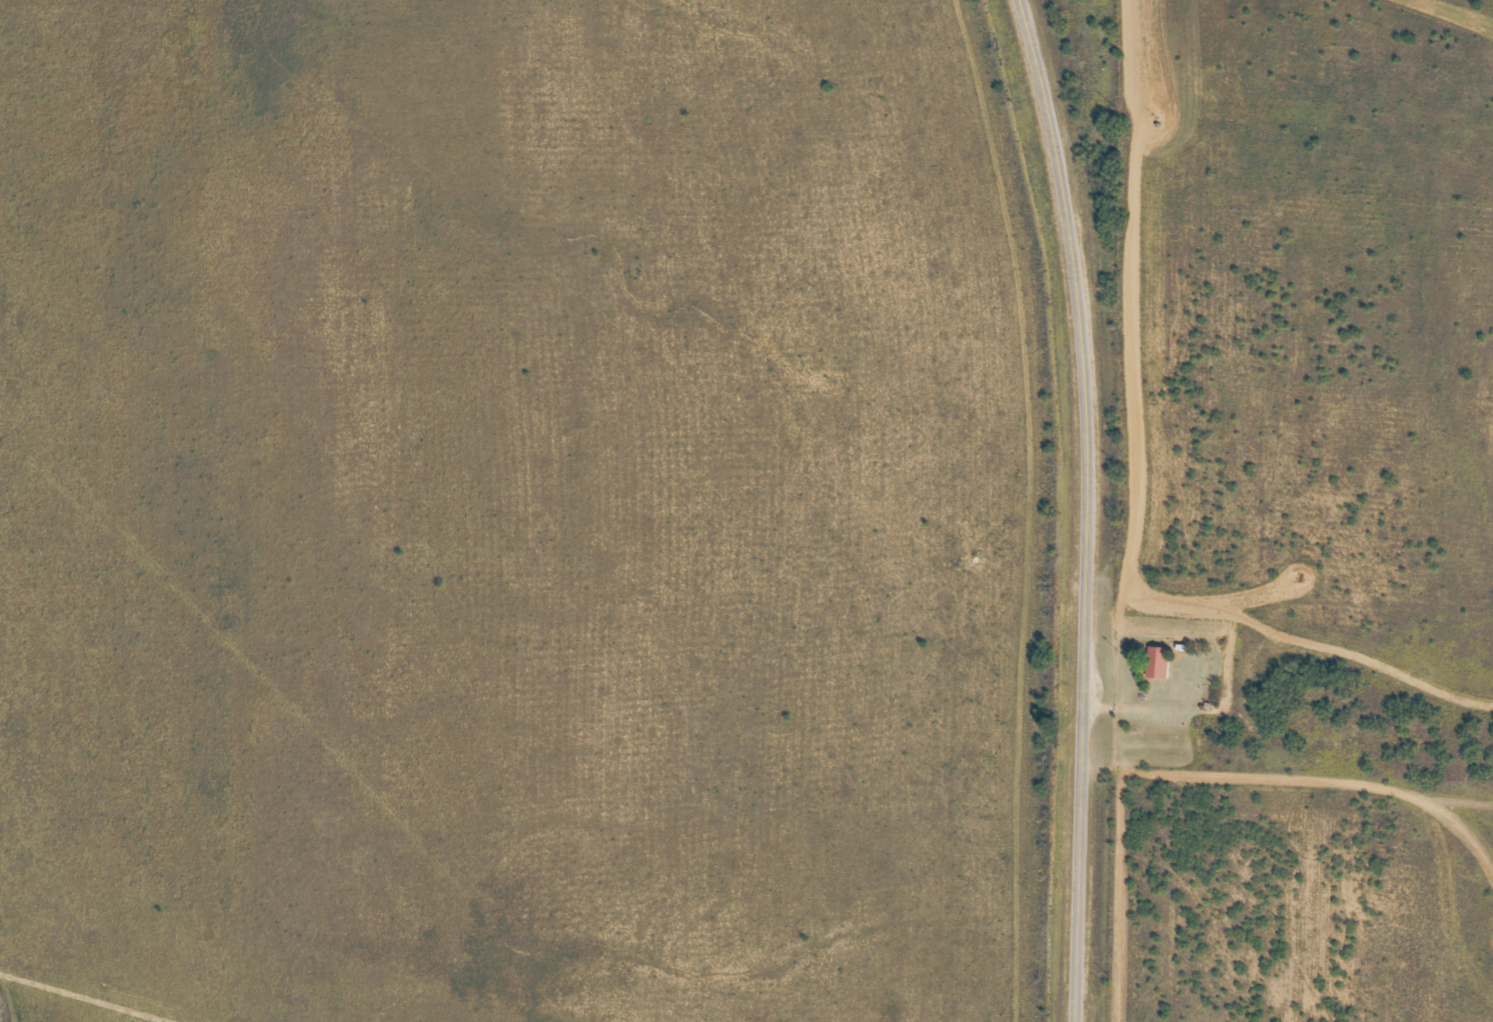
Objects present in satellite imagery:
road: (1088, 507)
building: (1158, 662)

